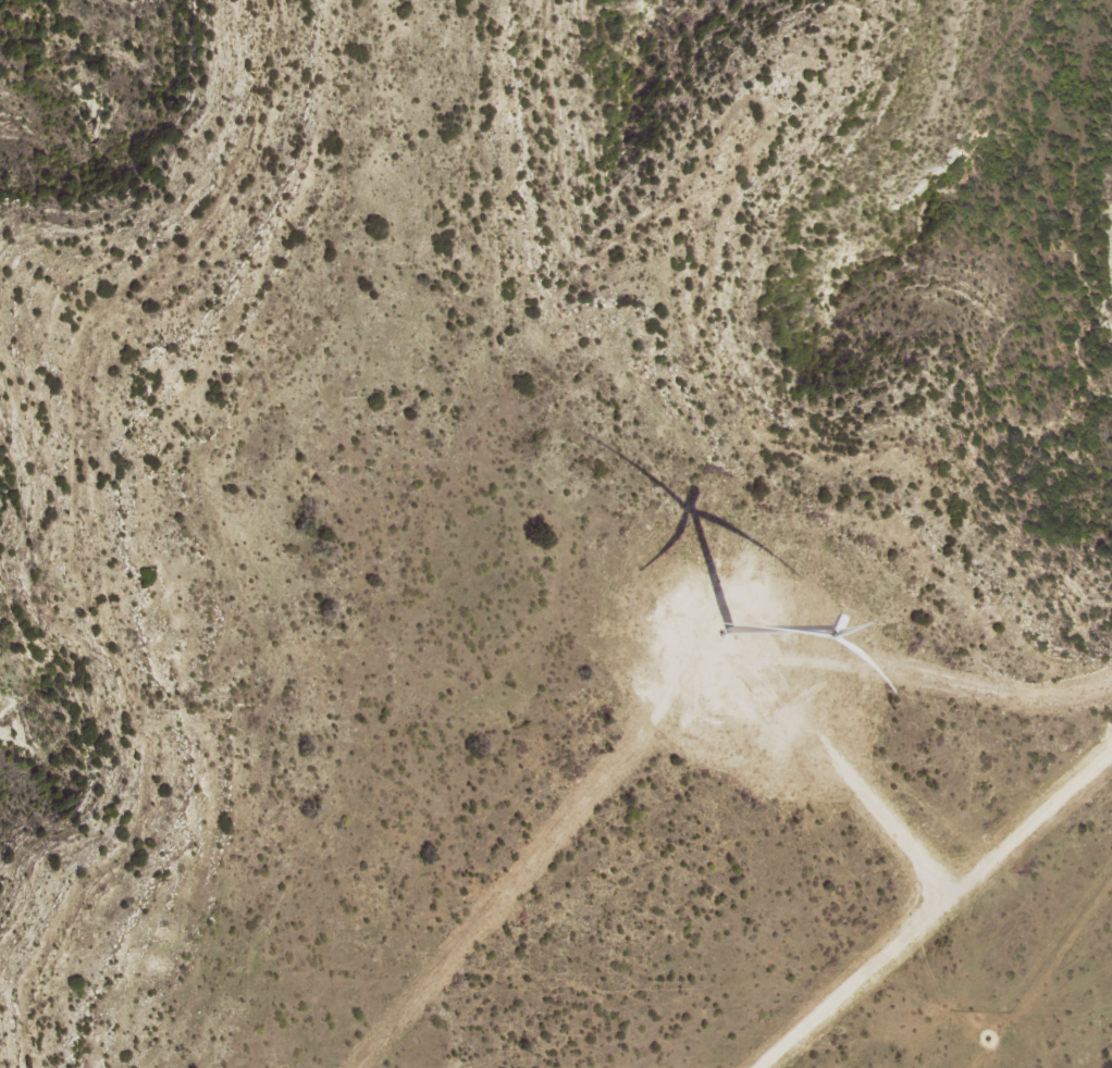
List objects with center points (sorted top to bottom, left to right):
wind turbine: (720, 632)

